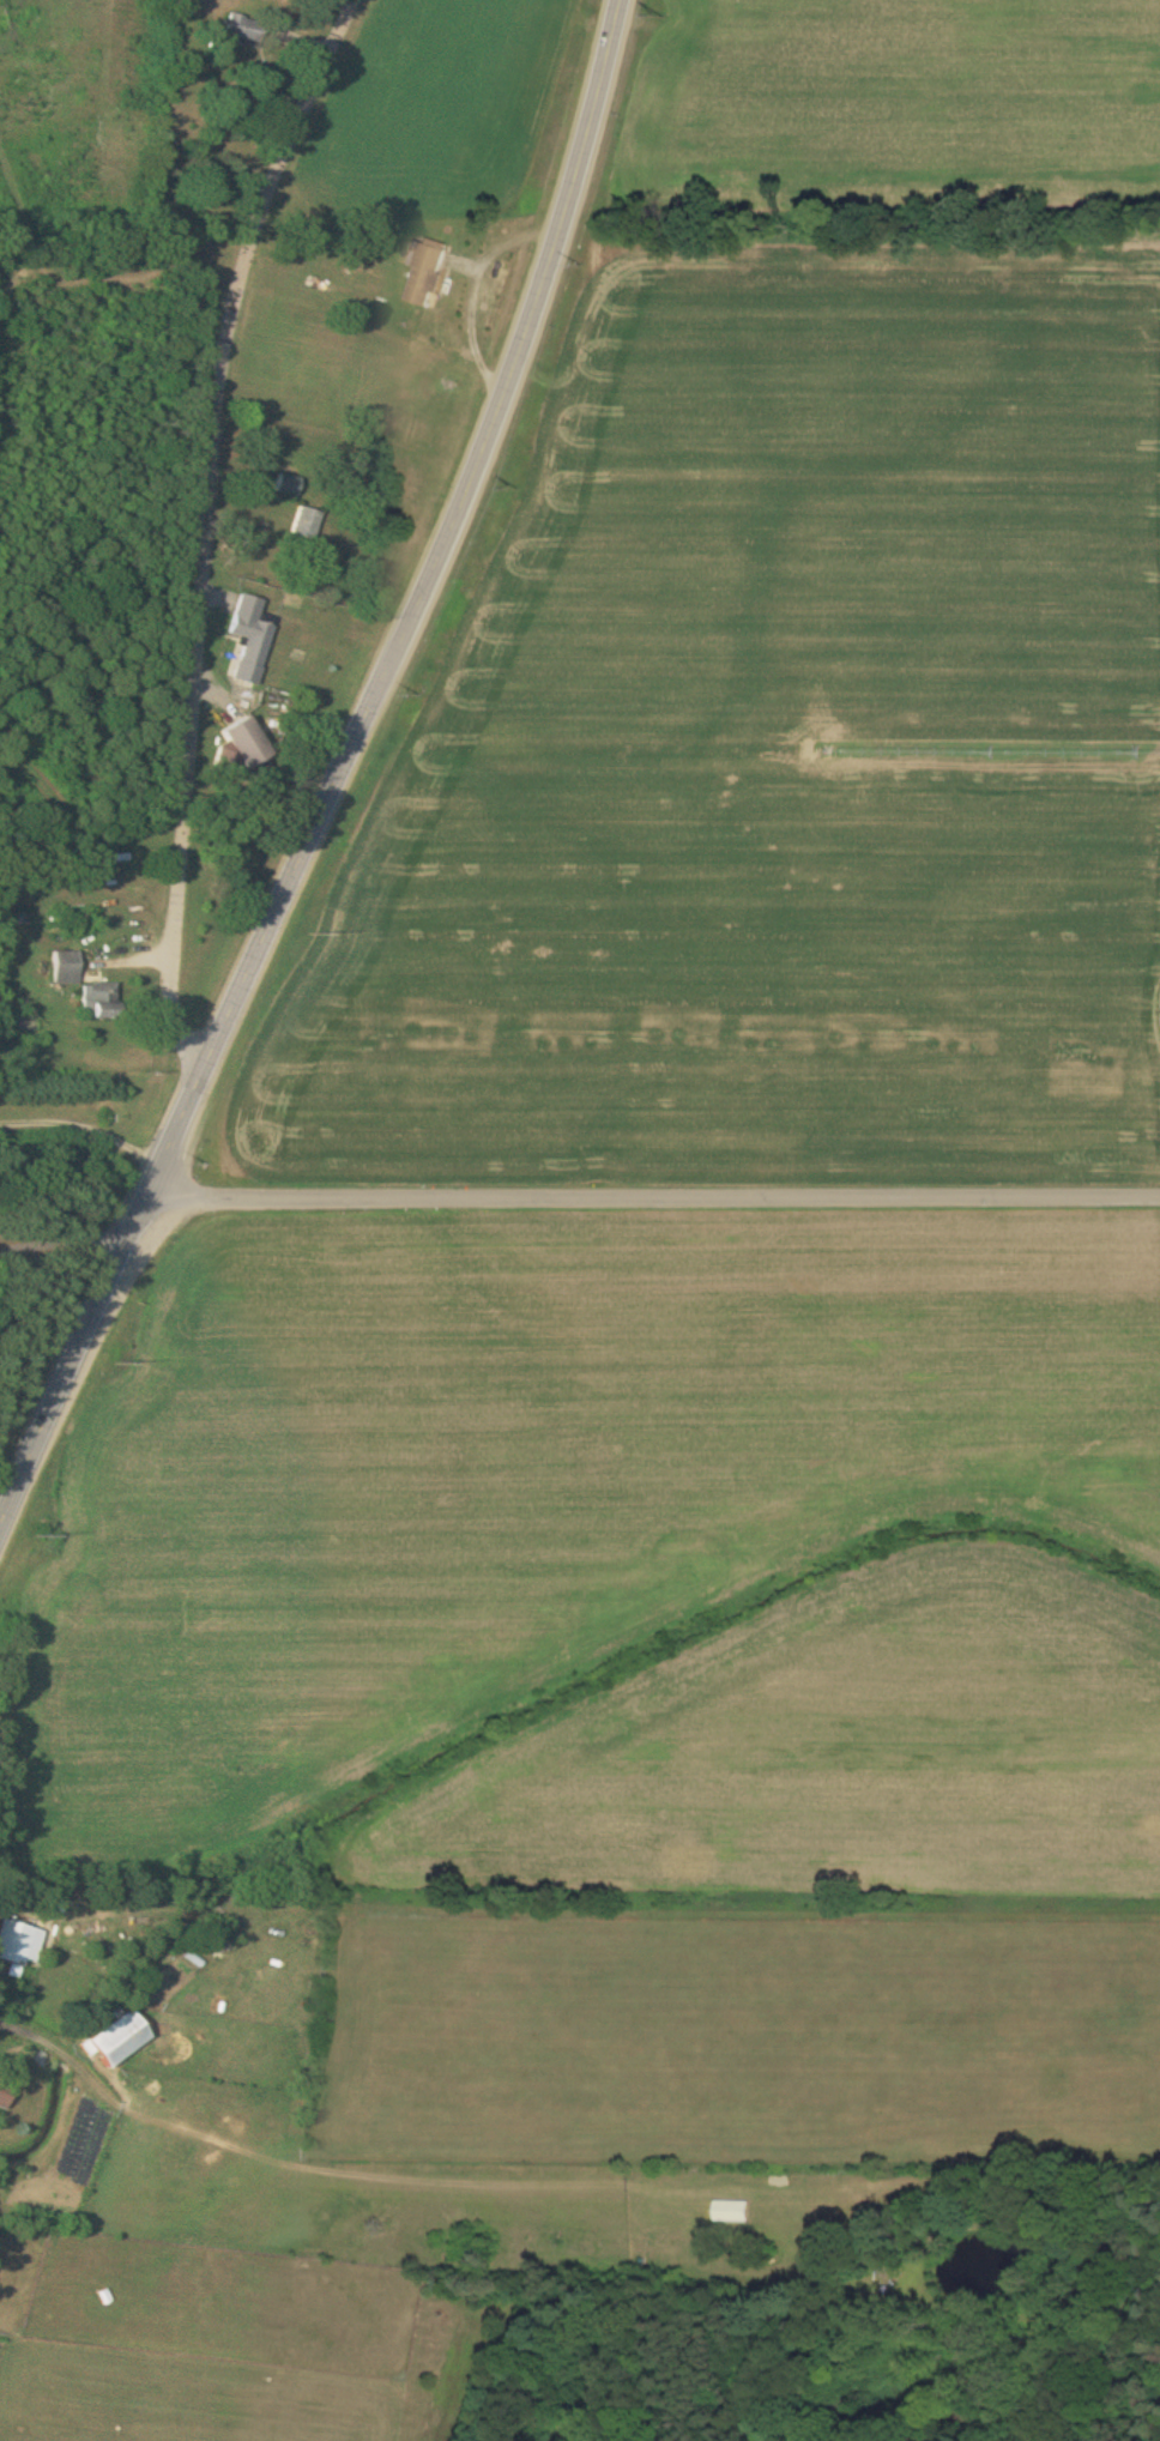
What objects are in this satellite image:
building: (246, 28)
building: (419, 288)
building: (289, 484)
building: (307, 522)
road: (207, 525)
road: (410, 609)
building: (253, 638)
building: (252, 742)
building: (70, 967)
building: (103, 1001)
road: (85, 1125)
road: (652, 1195)
road: (62, 1244)
road: (72, 1361)
road: (0, 1523)
building: (14, 1940)
building: (121, 2036)
building: (4, 2090)

